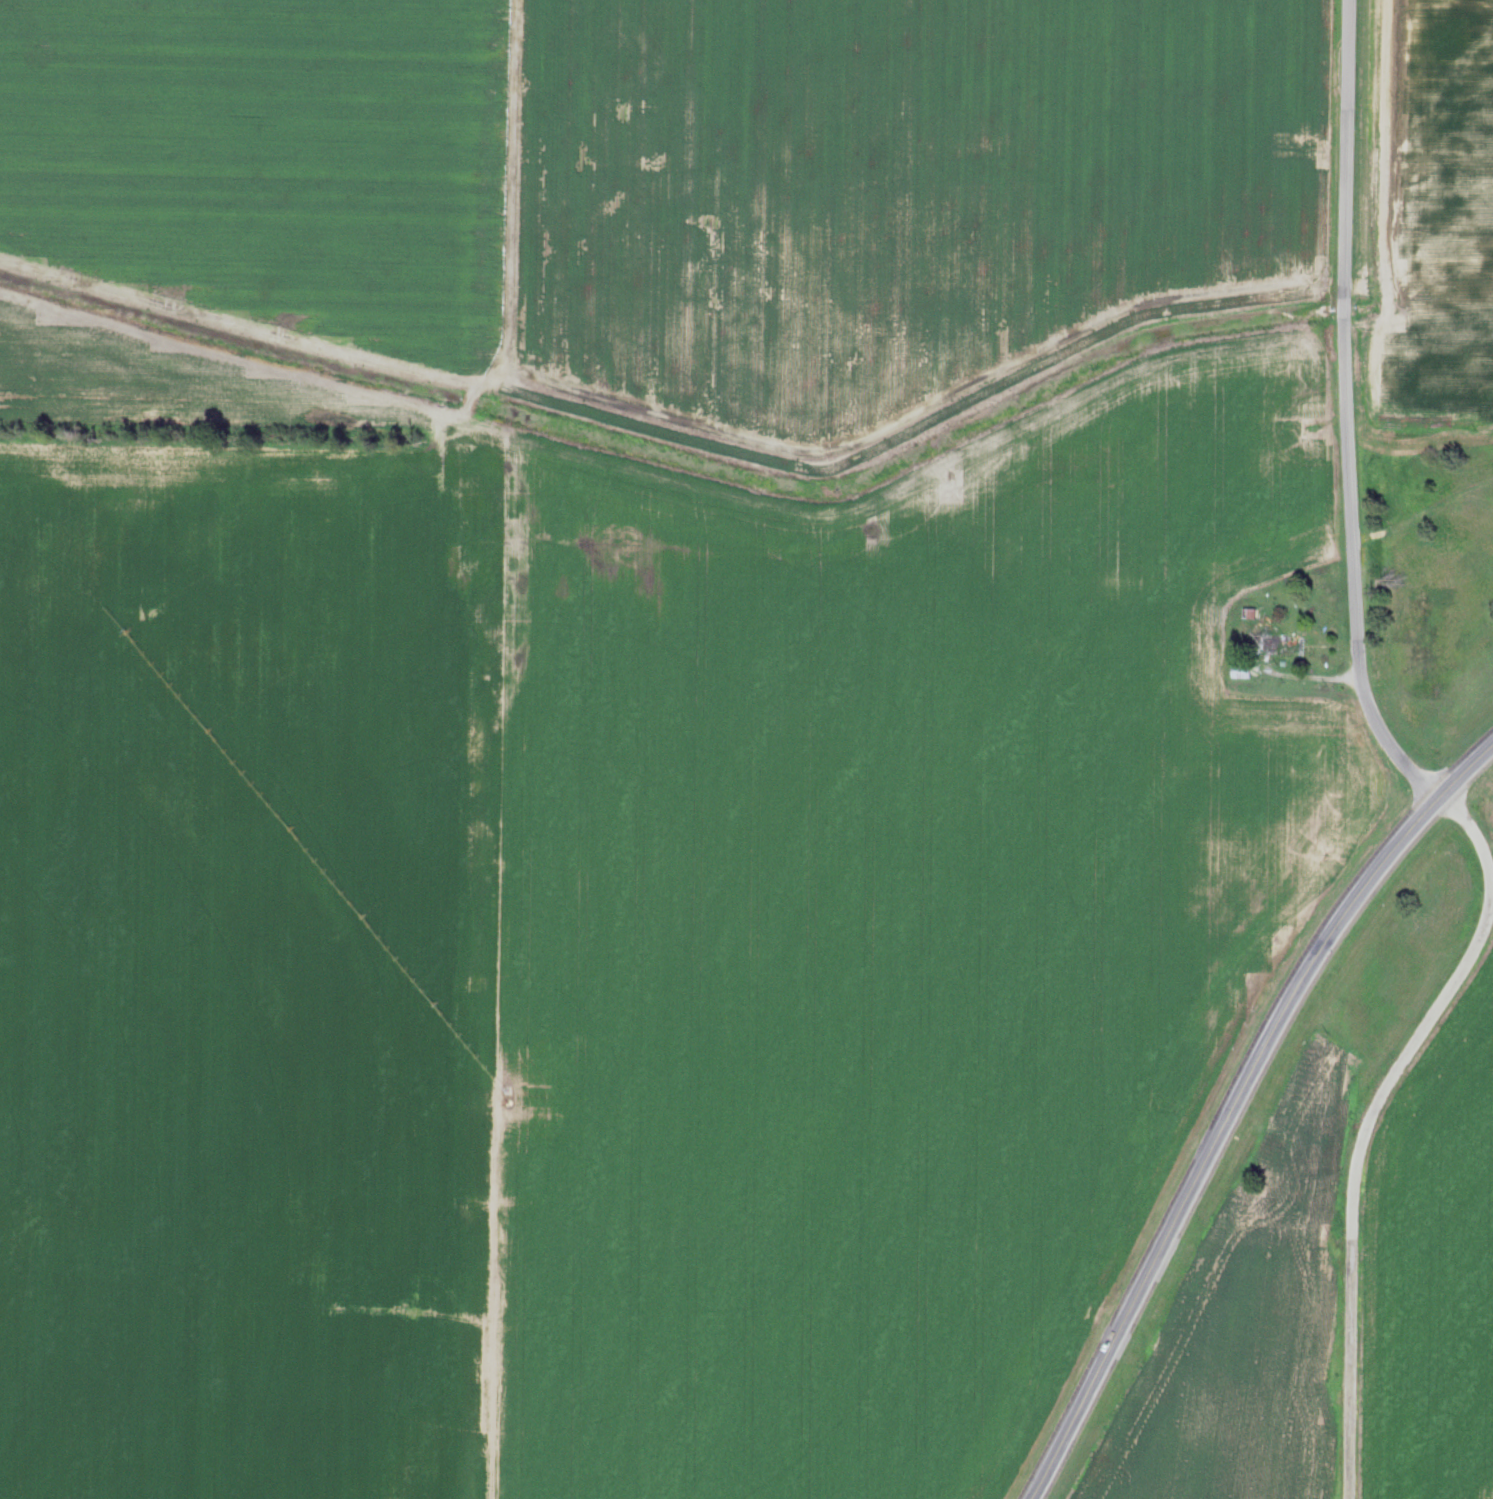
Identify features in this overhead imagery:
road: (1350, 268)
road: (1365, 677)
road: (1474, 817)
road: (1231, 1100)
road: (1357, 1190)

